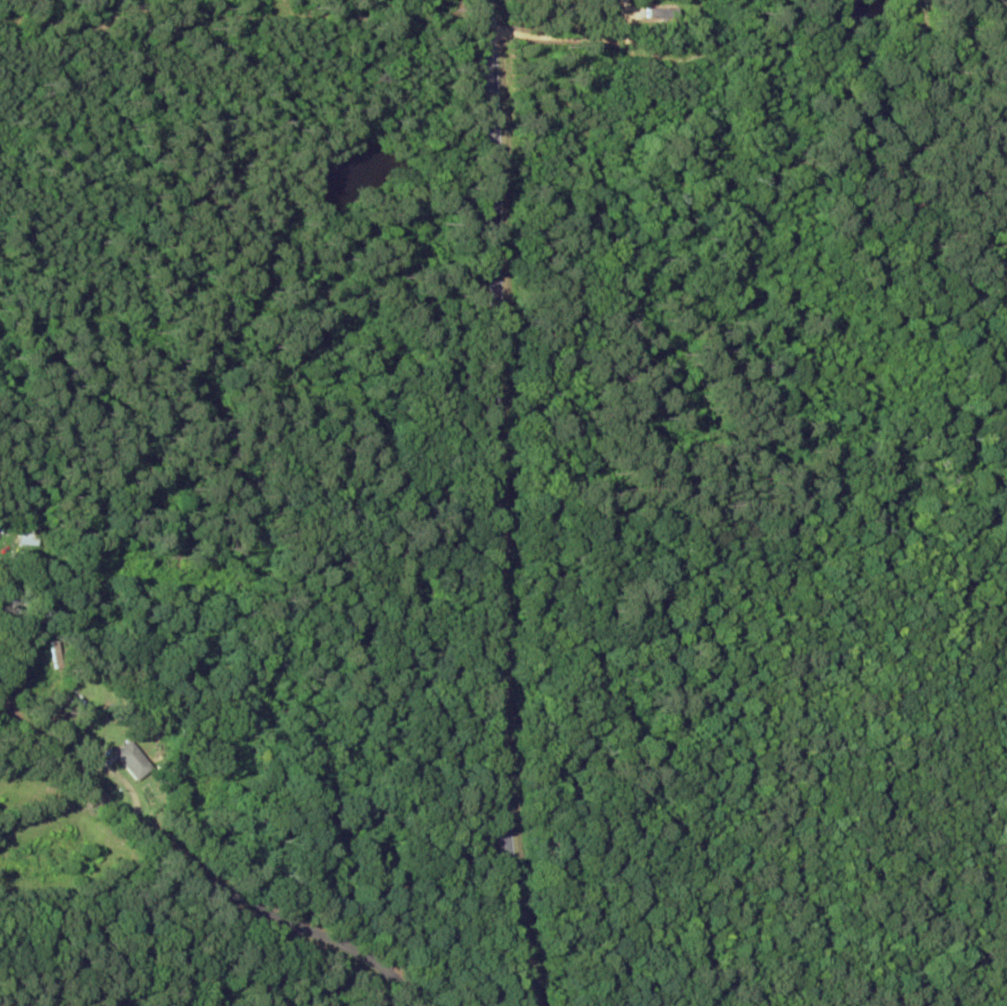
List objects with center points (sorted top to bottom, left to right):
road: (505, 504)
building: (136, 760)
road: (43, 826)
road: (182, 872)

